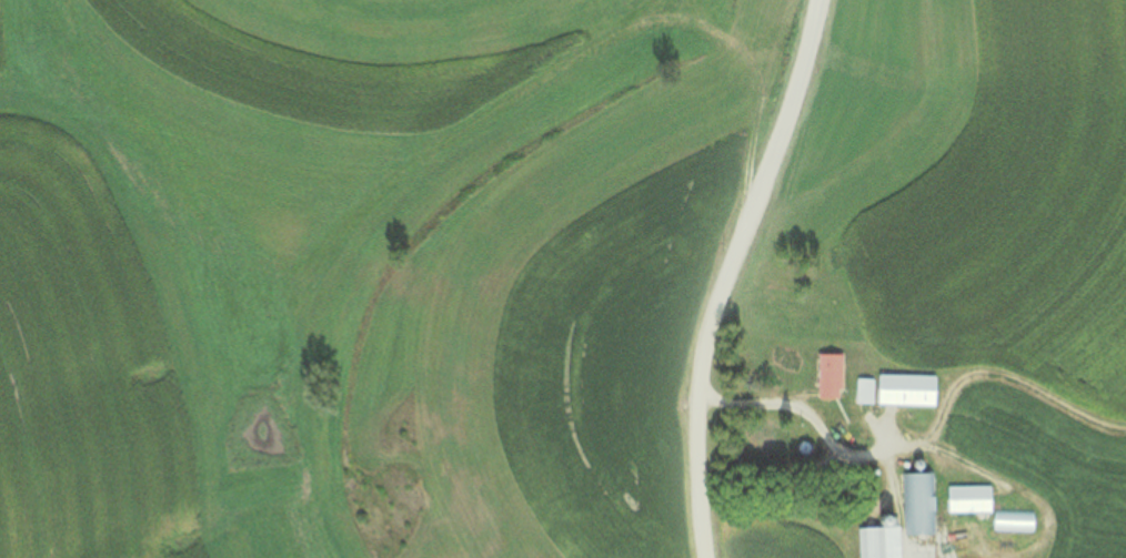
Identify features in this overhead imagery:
road: (723, 273)
building: (825, 375)
building: (892, 389)
road: (812, 420)
building: (981, 507)
building: (895, 519)

